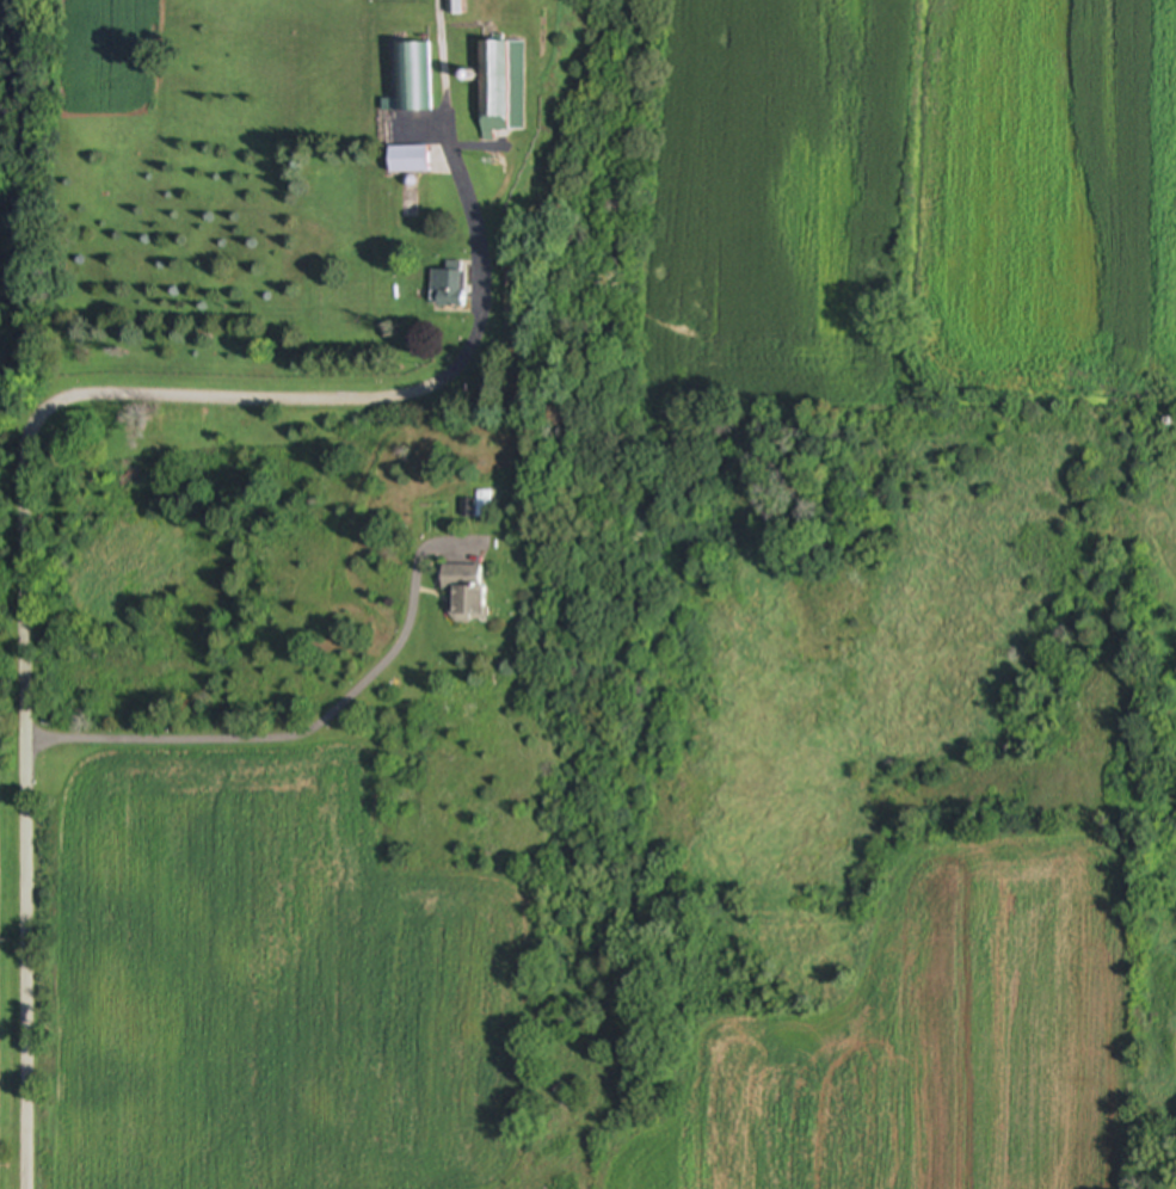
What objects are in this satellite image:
building: (454, 6)
building: (411, 79)
building: (501, 88)
building: (411, 160)
building: (445, 290)
road: (367, 395)
building: (464, 592)
road: (302, 735)
road: (27, 809)

